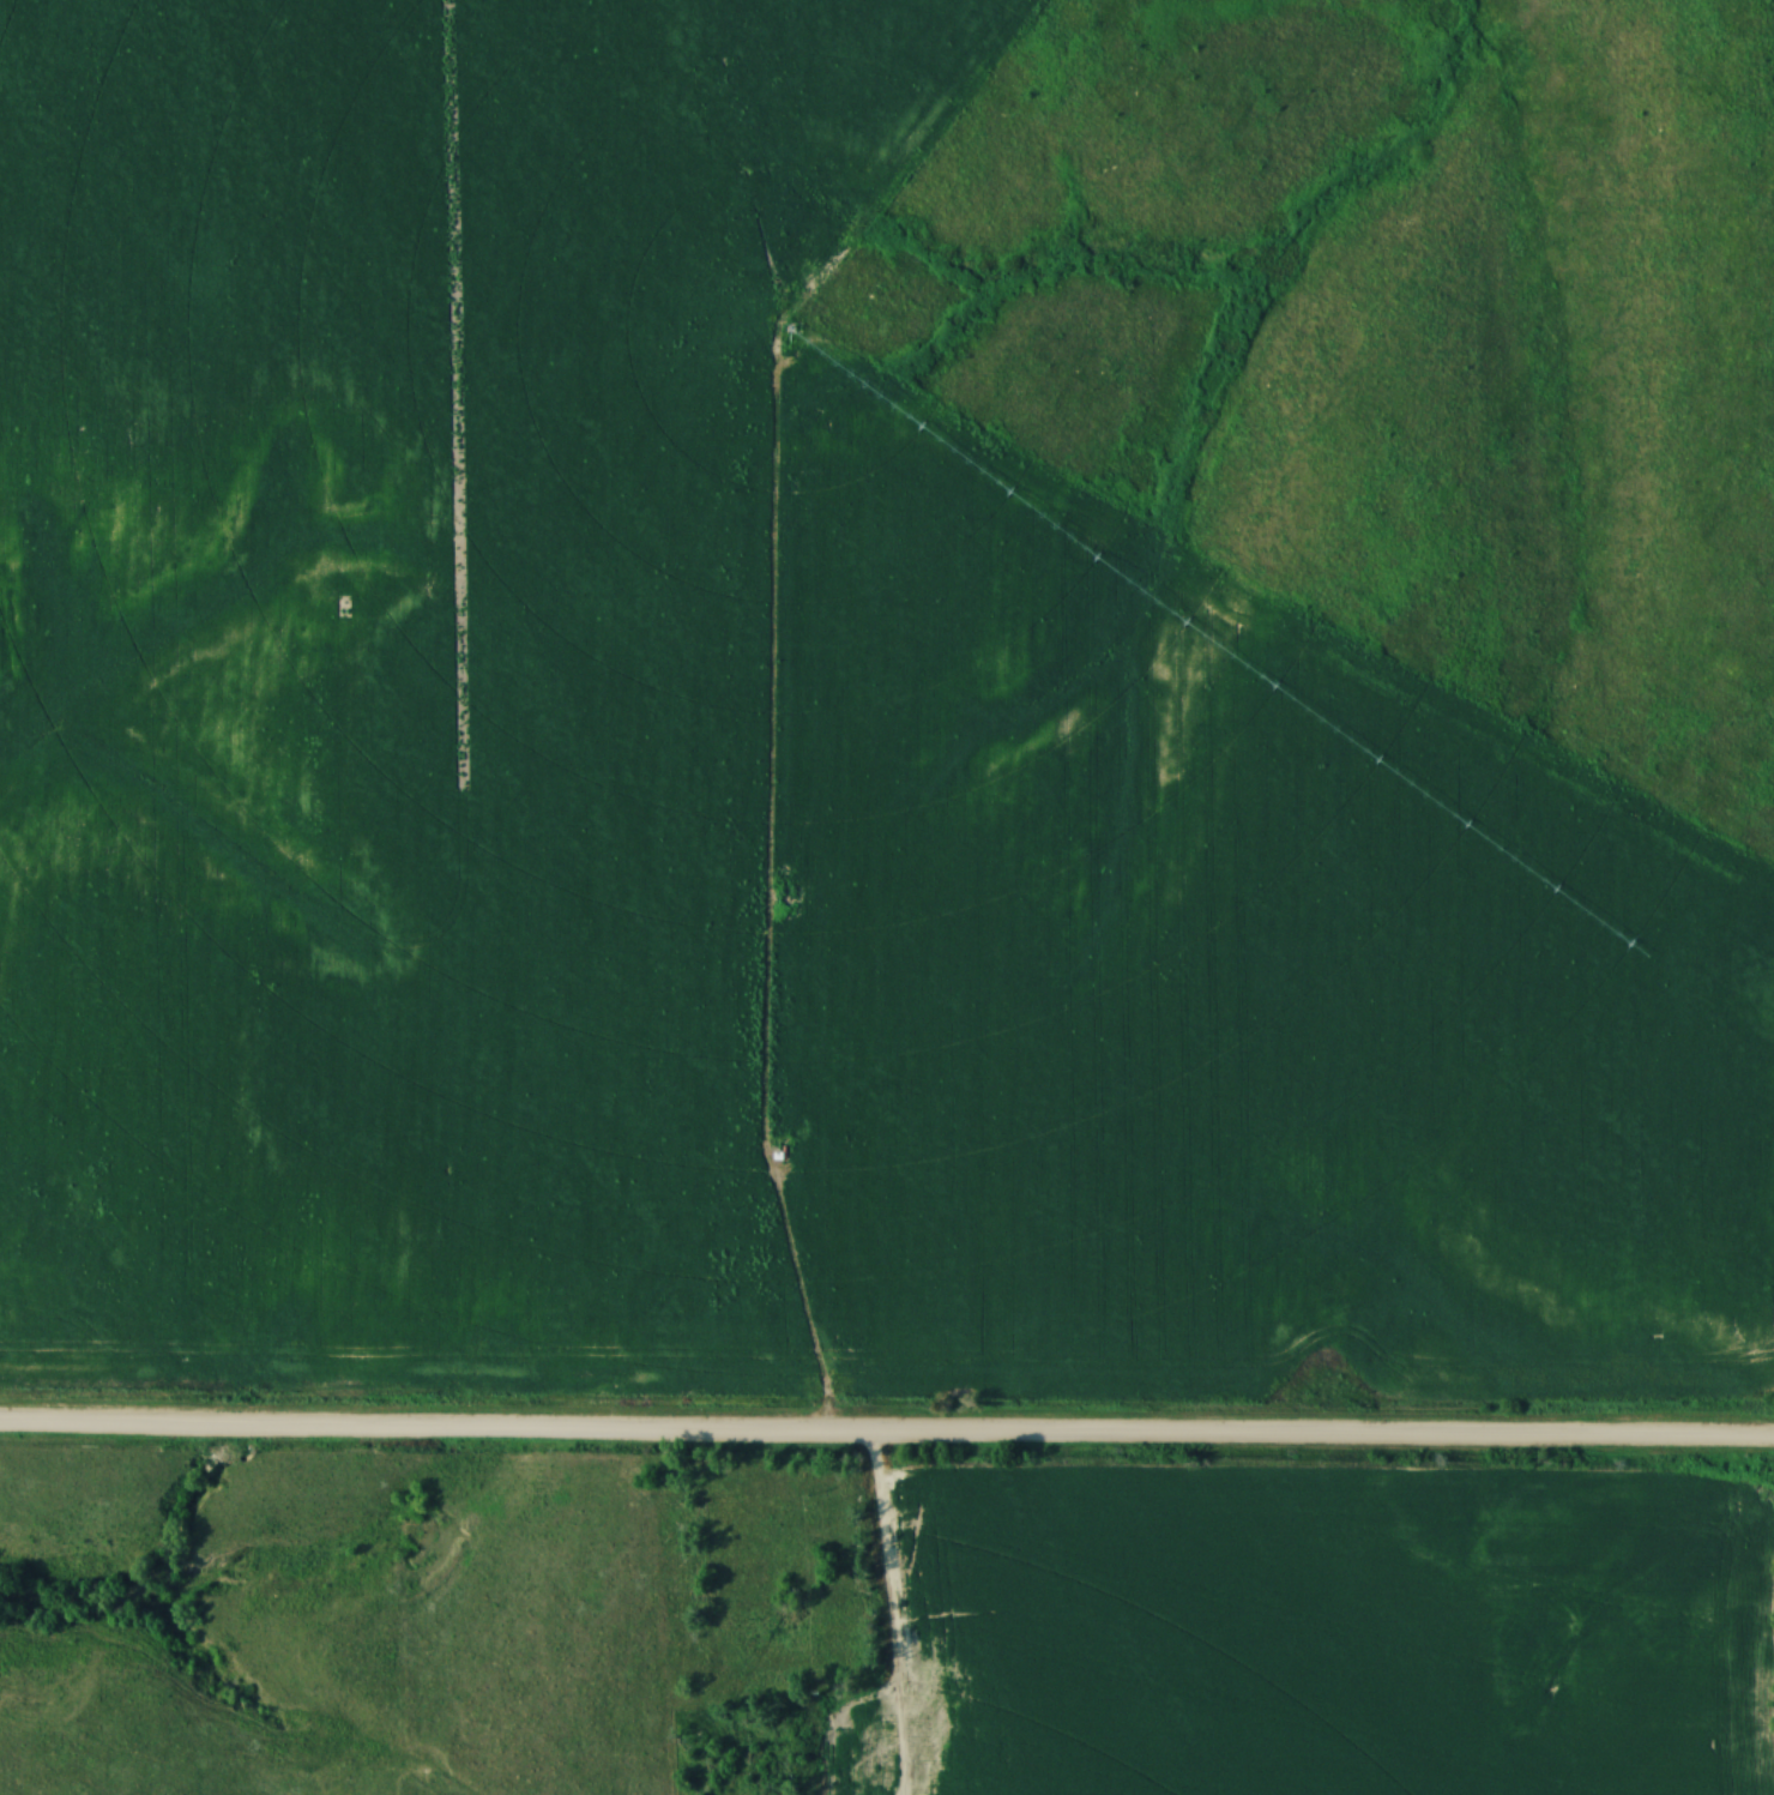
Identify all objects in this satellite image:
road: (886, 1442)

